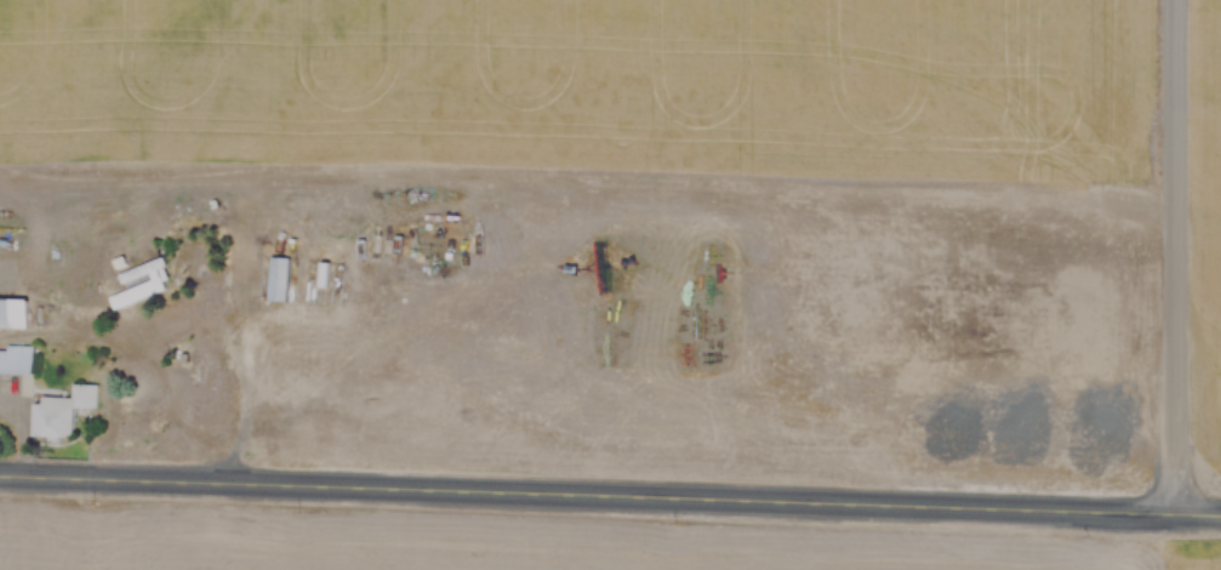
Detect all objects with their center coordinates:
road: (1164, 250)
building: (325, 274)
building: (280, 278)
building: (15, 313)
building: (17, 359)
building: (63, 411)
road: (610, 481)

